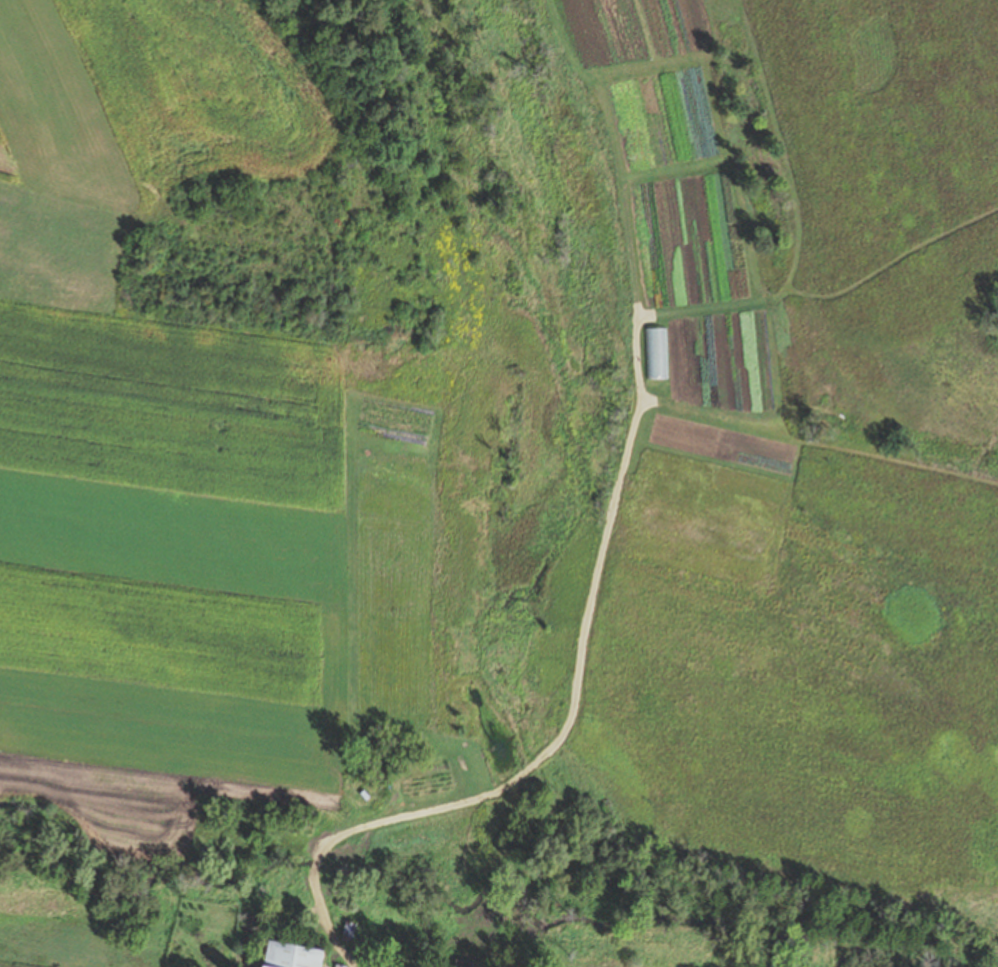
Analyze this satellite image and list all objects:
road: (633, 450)
road: (315, 863)
road: (326, 920)
building: (256, 926)
building: (350, 932)
building: (292, 956)
building: (338, 966)

